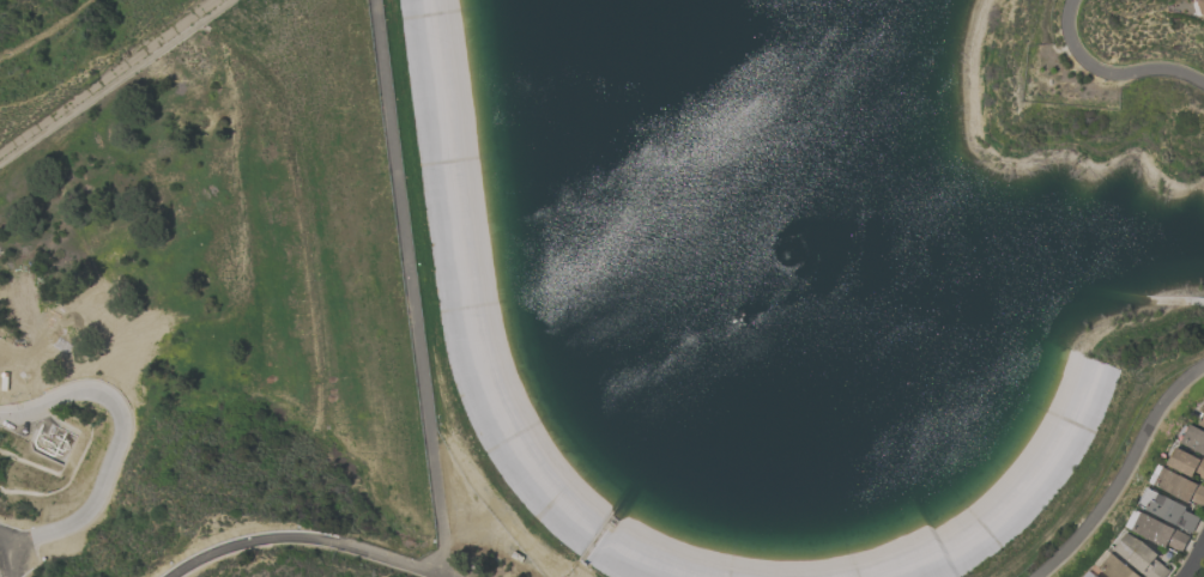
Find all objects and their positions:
building: (1202, 5)
road: (1109, 73)
road: (107, 78)
dam: (449, 300)
road: (411, 303)
building: (1203, 411)
building: (1202, 423)
building: (1194, 439)
road: (119, 444)
building: (1187, 463)
dam: (1058, 472)
road: (1123, 472)
building: (1179, 487)
building: (1168, 510)
building: (1158, 533)
road: (256, 541)
building: (1139, 557)
road: (382, 558)
road: (1196, 563)
building: (1117, 567)
building: (1097, 576)

